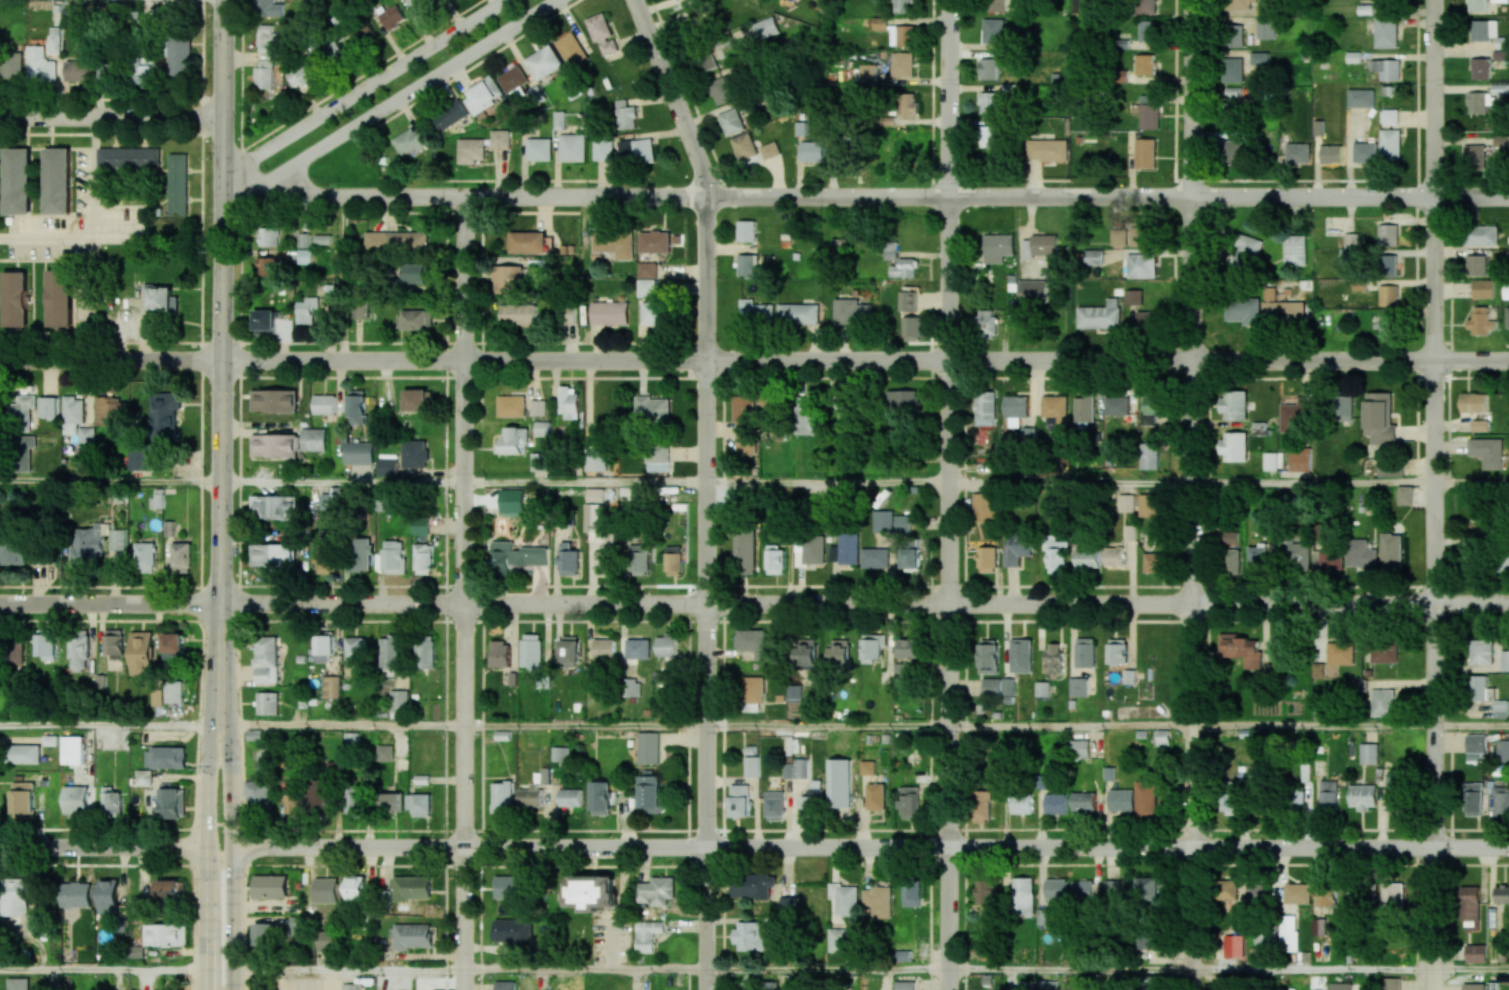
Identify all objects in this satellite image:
building: (677, 0)
building: (1500, 0)
building: (420, 4)
building: (996, 5)
building: (1240, 5)
building: (1477, 5)
building: (904, 6)
building: (1147, 6)
building: (269, 8)
building: (393, 17)
building: (880, 23)
building: (765, 27)
building: (1265, 28)
building: (1484, 29)
building: (992, 31)
building: (602, 33)
building: (1148, 33)
building: (1386, 33)
building: (902, 35)
building: (1233, 35)
building: (267, 38)
building: (55, 39)
building: (1502, 42)
building: (334, 48)
building: (571, 49)
building: (180, 56)
building: (1259, 58)
building: (545, 62)
building: (709, 63)
building: (903, 64)
building: (1145, 64)
building: (13, 65)
building: (41, 65)
building: (990, 66)
building: (1387, 68)
building: (1481, 68)
building: (1233, 69)
building: (79, 70)
building: (144, 70)
building: (110, 73)
building: (869, 73)
building: (265, 74)
building: (306, 74)
building: (513, 79)
road: (362, 87)
building: (723, 89)
building: (483, 94)
road: (672, 97)
building: (1361, 98)
building: (1148, 99)
building: (990, 102)
building: (1477, 102)
road: (390, 103)
building: (907, 103)
building: (1232, 105)
building: (449, 115)
building: (626, 115)
road: (110, 116)
building: (1390, 116)
building: (1148, 117)
building: (559, 120)
building: (731, 121)
building: (988, 136)
building: (500, 138)
building: (408, 141)
building: (1390, 143)
building: (744, 146)
building: (572, 147)
building: (603, 148)
building: (538, 149)
building: (898, 149)
building: (1046, 149)
building: (470, 150)
building: (638, 150)
building: (770, 150)
building: (812, 151)
building: (843, 151)
building: (1234, 152)
building: (1365, 152)
building: (1145, 153)
building: (1297, 153)
building: (1331, 154)
building: (1474, 155)
building: (129, 156)
road: (94, 175)
building: (58, 180)
building: (18, 181)
building: (179, 184)
road: (864, 197)
building: (747, 231)
building: (1388, 234)
road: (47, 235)
road: (121, 235)
building: (1482, 235)
building: (269, 236)
building: (1130, 236)
building: (323, 239)
building: (303, 240)
building: (1352, 240)
building: (654, 241)
building: (396, 242)
building: (528, 242)
building: (614, 243)
building: (1041, 246)
building: (998, 247)
building: (1295, 249)
building: (891, 250)
building: (1245, 253)
building: (305, 256)
building: (1094, 257)
building: (1476, 264)
building: (747, 265)
building: (1137, 265)
building: (1389, 265)
building: (269, 266)
building: (903, 268)
building: (646, 270)
building: (416, 273)
building: (507, 279)
building: (646, 287)
building: (1483, 288)
building: (1506, 290)
building: (329, 291)
building: (1032, 291)
building: (1388, 295)
road: (95, 297)
building: (1133, 297)
building: (15, 299)
building: (60, 299)
building: (162, 299)
building: (907, 301)
building: (360, 309)
building: (1281, 309)
building: (306, 310)
building: (1243, 310)
building: (755, 311)
building: (610, 312)
building: (656, 312)
building: (798, 313)
building: (518, 314)
building: (567, 314)
building: (853, 314)
building: (1099, 315)
building: (1508, 318)
building: (415, 319)
building: (1146, 319)
building: (265, 320)
building: (987, 322)
building: (1482, 322)
building: (1386, 325)
building: (912, 328)
road: (111, 358)
road: (865, 359)
road: (222, 362)
building: (274, 400)
building: (418, 400)
building: (903, 400)
building: (325, 402)
building: (569, 402)
building: (1473, 402)
building: (48, 403)
building: (512, 404)
building: (538, 405)
building: (1116, 405)
building: (1234, 405)
building: (357, 407)
building: (652, 408)
building: (985, 408)
building: (1016, 408)
building: (1151, 408)
building: (1343, 408)
building: (22, 409)
building: (110, 410)
building: (1083, 411)
building: (1055, 413)
building: (72, 414)
building: (165, 415)
building: (1295, 415)
building: (745, 416)
building: (1379, 418)
building: (809, 422)
building: (1480, 425)
building: (541, 428)
building: (86, 436)
building: (315, 437)
building: (515, 440)
building: (28, 441)
building: (576, 442)
building: (275, 445)
building: (1234, 446)
building: (746, 447)
building: (658, 451)
building: (1487, 451)
building: (360, 452)
building: (417, 452)
building: (142, 455)
building: (596, 456)
building: (1148, 456)
building: (1300, 458)
building: (539, 461)
building: (1270, 461)
building: (24, 463)
building: (389, 465)
building: (1390, 469)
road: (110, 481)
road: (342, 481)
road: (585, 482)
road: (827, 482)
road: (1069, 482)
road: (1311, 483)
road: (1470, 483)
road: (948, 494)
road: (1432, 494)
building: (595, 495)
road: (1189, 495)
building: (1405, 495)
building: (384, 498)
building: (330, 500)
building: (512, 500)
building: (1126, 503)
building: (1149, 505)
building: (274, 507)
building: (986, 508)
building: (883, 521)
building: (903, 523)
building: (422, 524)
building: (1230, 536)
building: (117, 539)
building: (87, 543)
building: (1470, 546)
building: (849, 547)
building: (1017, 548)
building: (810, 549)
building: (1392, 551)
building: (1055, 552)
building: (745, 553)
building: (1361, 553)
building: (14, 554)
building: (359, 554)
building: (604, 554)
building: (273, 555)
building: (1298, 555)
building: (516, 556)
building: (876, 556)
building: (1114, 556)
building: (145, 557)
building: (181, 557)
building: (393, 557)
building: (424, 558)
building: (673, 558)
building: (910, 558)
building: (987, 558)
building: (1087, 558)
building: (1327, 558)
building: (568, 559)
building: (639, 559)
building: (327, 560)
building: (774, 560)
building: (1257, 560)
building: (1232, 561)
building: (1153, 562)
road: (464, 593)
road: (705, 593)
road: (110, 603)
road: (864, 604)
building: (754, 642)
building: (46, 644)
building: (114, 644)
building: (666, 645)
building: (324, 647)
building: (872, 647)
building: (637, 648)
building: (909, 648)
building: (569, 649)
building: (604, 649)
building: (1244, 649)
building: (78, 650)
building: (173, 650)
building: (354, 650)
building: (531, 650)
building: (805, 651)
building: (1117, 651)
building: (389, 652)
building: (424, 652)
building: (840, 652)
building: (1085, 652)
building: (1384, 652)
building: (1481, 652)
building: (15, 653)
building: (142, 653)
building: (499, 653)
building: (1021, 655)
building: (988, 656)
building: (1334, 657)
building: (1053, 658)
building: (266, 659)
building: (1504, 661)
building: (331, 686)
building: (632, 687)
building: (999, 687)
building: (1078, 687)
building: (1042, 688)
building: (1481, 688)
building: (753, 689)
building: (173, 691)
building: (794, 692)
building: (399, 701)
building: (1384, 702)
building: (267, 703)
building: (1500, 708)
road: (110, 724)
road: (342, 725)
road: (584, 725)
road: (826, 725)
road: (1068, 726)
road: (1310, 726)
road: (1470, 726)
building: (254, 734)
building: (351, 739)
building: (1476, 743)
building: (649, 747)
building: (73, 748)
building: (1079, 748)
building: (750, 749)
building: (1503, 750)
building: (385, 753)
building: (561, 753)
building: (1369, 753)
building: (24, 754)
building: (165, 757)
building: (751, 766)
building: (802, 767)
building: (869, 767)
building: (788, 770)
building: (542, 776)
building: (143, 777)
building: (841, 783)
building: (1303, 789)
building: (1395, 791)
building: (259, 792)
building: (651, 792)
building: (1328, 793)
building: (530, 795)
building: (320, 796)
building: (876, 796)
building: (1363, 796)
building: (502, 797)
building: (570, 797)
building: (600, 797)
building: (1146, 798)
building: (1474, 799)
building: (23, 800)
building: (76, 800)
building: (740, 800)
building: (910, 800)
building: (1121, 800)
building: (111, 801)
building: (172, 801)
building: (355, 801)
building: (1083, 801)
building: (1231, 801)
building: (1501, 801)
building: (392, 802)
building: (295, 803)
building: (1055, 803)
building: (419, 804)
building: (1021, 804)
building: (774, 805)
building: (810, 805)
building: (982, 806)
road: (102, 847)
road: (709, 847)
road: (1349, 848)
road: (205, 856)
road: (230, 856)
building: (753, 885)
building: (270, 886)
building: (513, 886)
building: (411, 887)
building: (1019, 887)
building: (1111, 887)
building: (356, 888)
building: (1148, 888)
building: (1226, 888)
building: (171, 889)
building: (326, 890)
building: (1081, 890)
building: (656, 891)
building: (987, 891)
building: (592, 892)
building: (912, 892)
building: (1258, 893)
building: (1296, 893)
building: (76, 894)
building: (1361, 894)
building: (1501, 894)
building: (1392, 895)
building: (16, 896)
building: (109, 896)
building: (1326, 896)
building: (845, 899)
building: (878, 900)
building: (1469, 903)
building: (786, 905)
building: (35, 923)
building: (1319, 926)
building: (514, 931)
building: (165, 934)
building: (265, 934)
building: (647, 935)
building: (411, 936)
building: (749, 936)
building: (838, 939)
building: (326, 941)
building: (1233, 946)
building: (137, 951)
building: (1475, 953)
building: (902, 955)
road: (103, 969)
road: (826, 969)
road: (1310, 969)
road: (1470, 969)
road: (584, 970)
road: (1068, 970)
road: (347, 971)
road: (330, 980)
building: (18, 983)
building: (1391, 983)
building: (504, 985)
building: (905, 985)
building: (1025, 985)
building: (1046, 985)
building: (349, 986)
building: (1341, 986)
building: (1474, 986)

